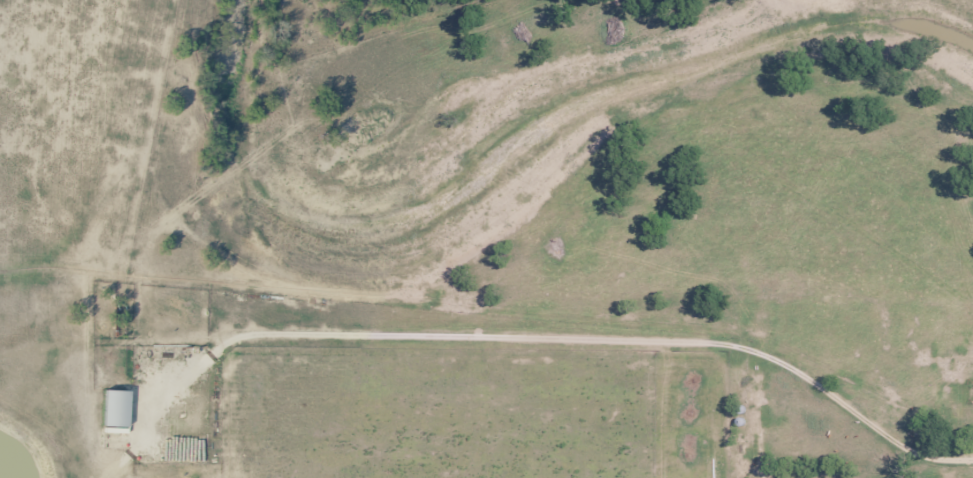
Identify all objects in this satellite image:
road: (492, 335)
building: (111, 407)

